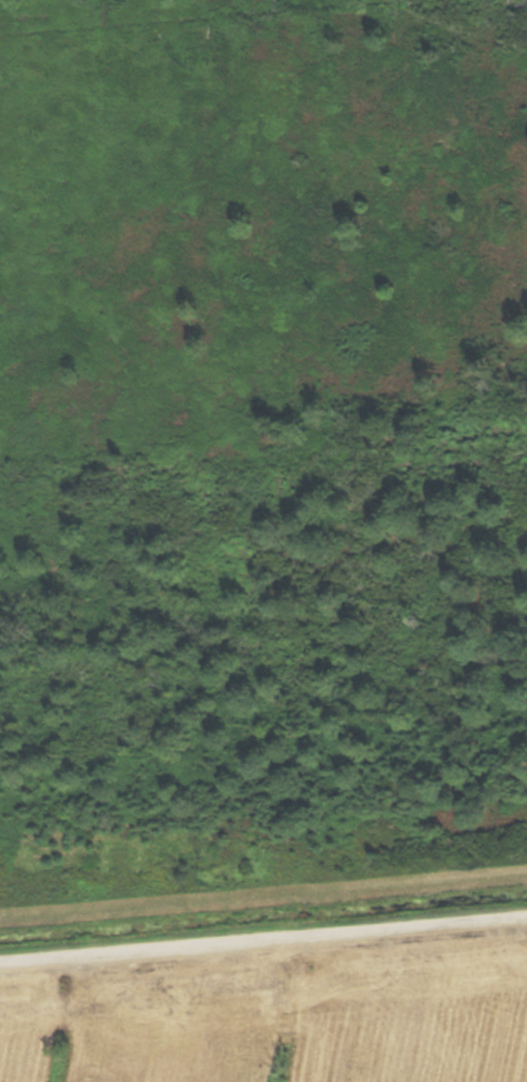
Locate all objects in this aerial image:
road: (263, 897)
road: (263, 935)

